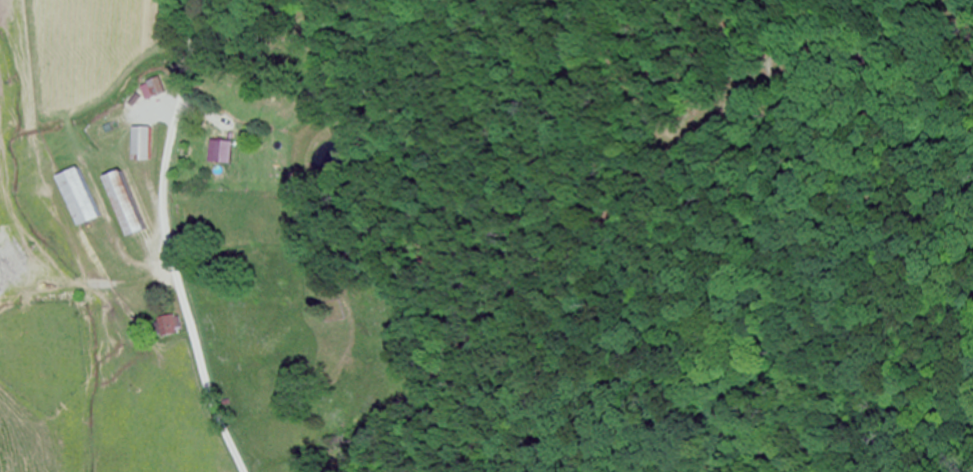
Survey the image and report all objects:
building: (156, 88)
building: (136, 107)
building: (109, 128)
building: (140, 145)
building: (221, 153)
building: (76, 199)
building: (121, 206)
road: (167, 240)
building: (165, 326)

